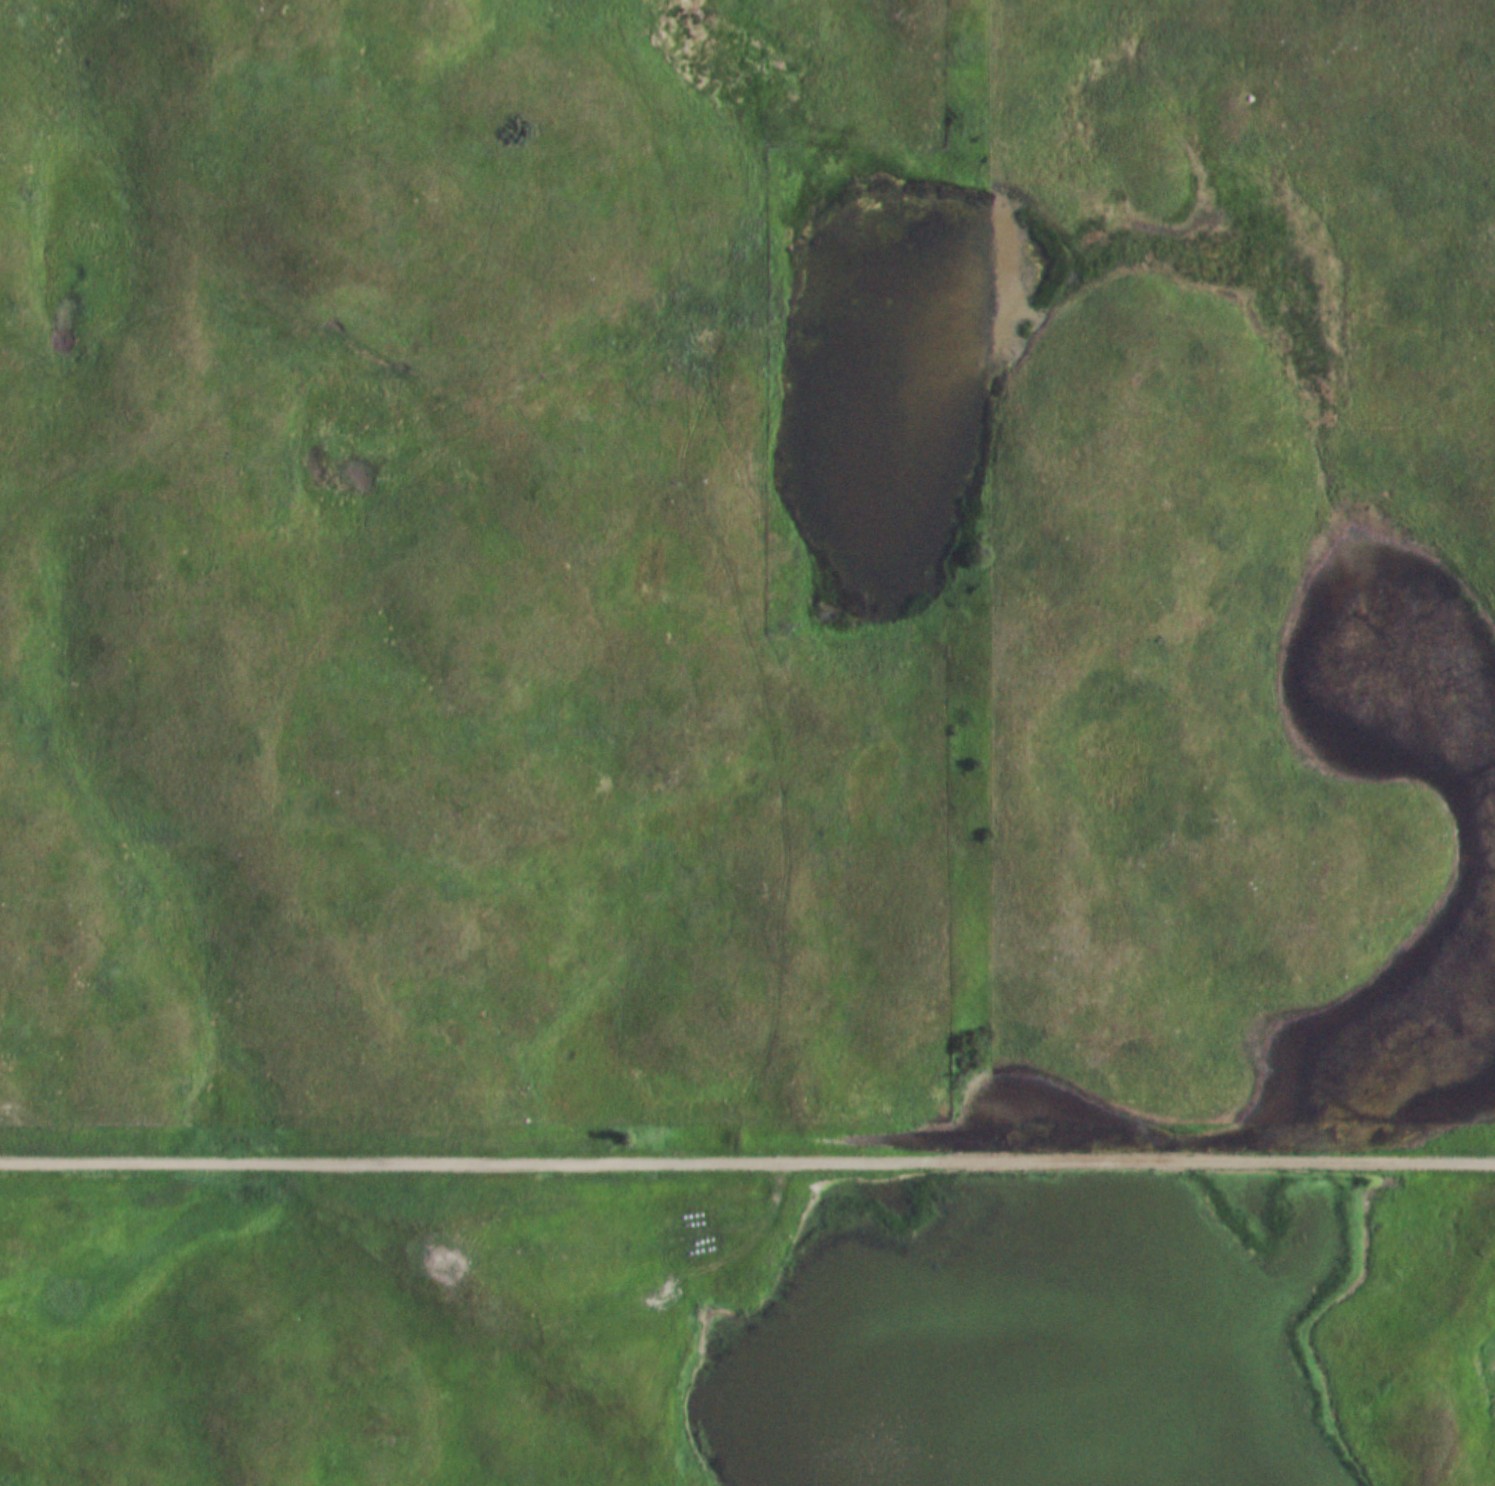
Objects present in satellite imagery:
road: (747, 1160)

